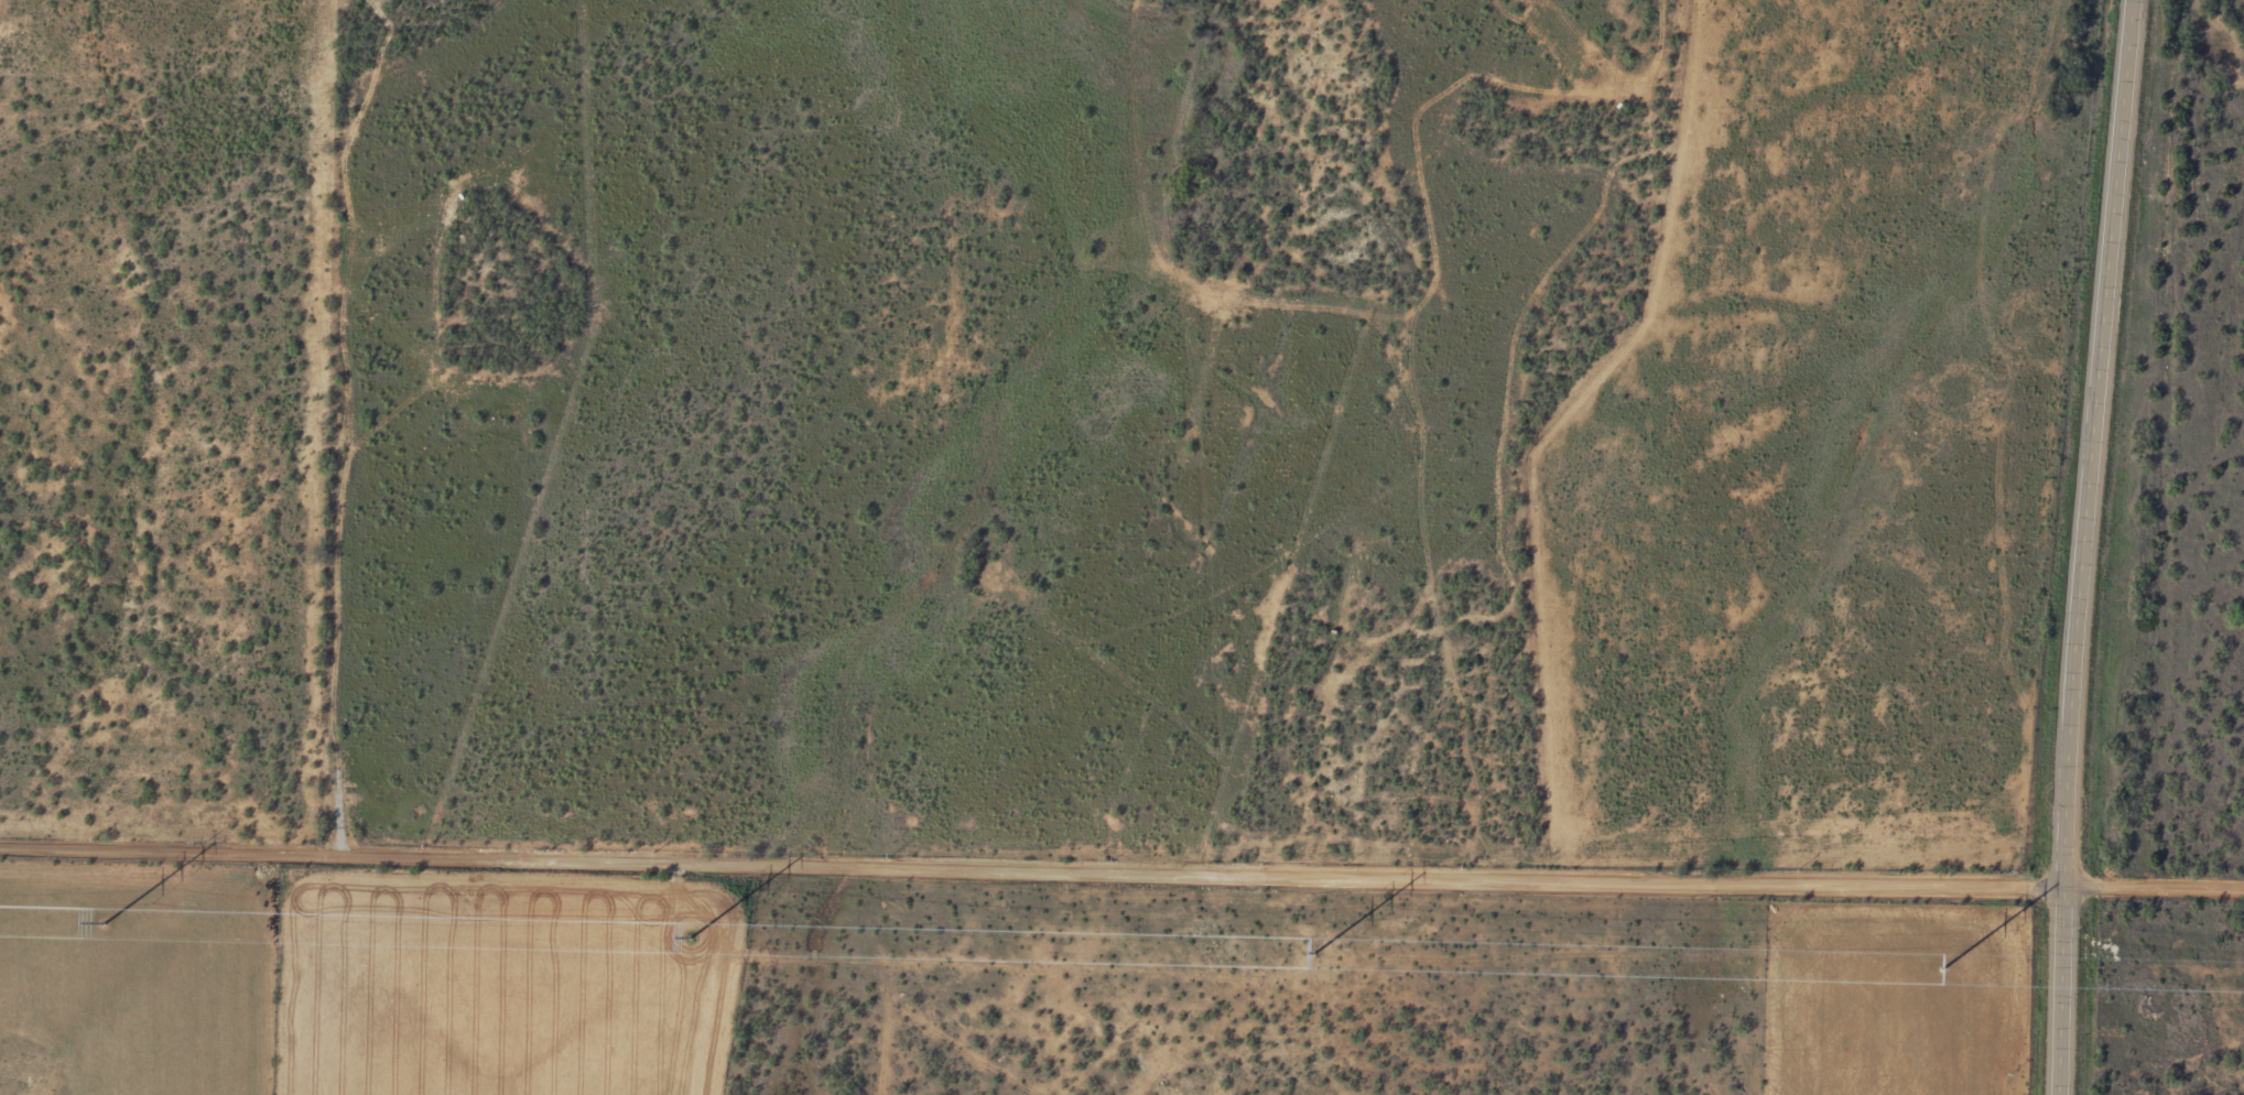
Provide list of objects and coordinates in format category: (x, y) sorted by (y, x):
road: (2084, 546)
road: (1032, 868)
road: (2155, 883)
power tower: (106, 921)
power tower: (691, 935)
power tower: (1314, 951)
power tower: (1943, 966)

